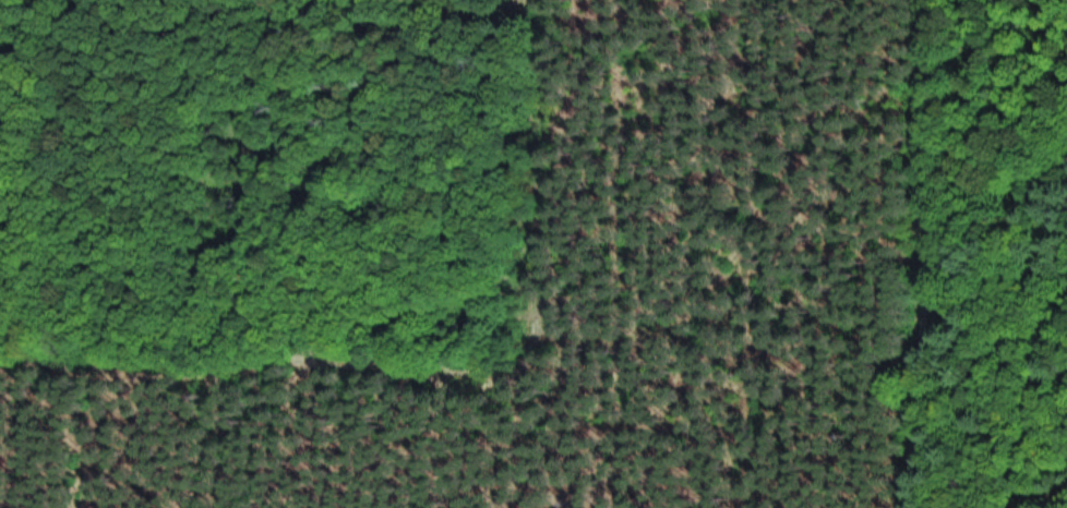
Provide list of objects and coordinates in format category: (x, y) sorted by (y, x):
road: (902, 253)
road: (435, 370)

